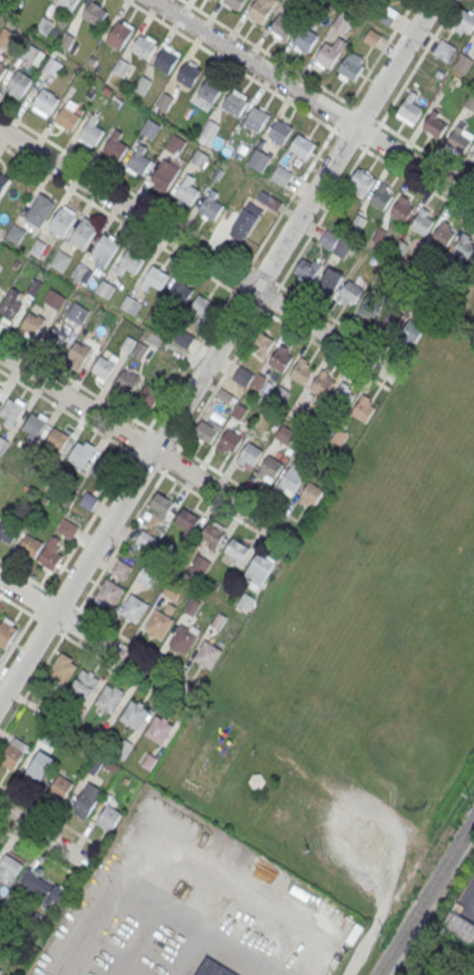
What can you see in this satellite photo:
building: (235, 3)
building: (68, 4)
building: (261, 9)
building: (95, 14)
building: (342, 22)
building: (464, 22)
building: (44, 25)
building: (282, 27)
building: (120, 34)
building: (373, 37)
building: (305, 39)
building: (66, 40)
building: (473, 42)
building: (145, 48)
building: (444, 50)
building: (330, 52)
building: (35, 55)
building: (167, 61)
building: (463, 63)
building: (53, 66)
building: (121, 67)
building: (350, 68)
building: (2, 69)
building: (189, 75)
building: (19, 83)
building: (142, 85)
building: (210, 90)
road: (327, 91)
building: (46, 100)
building: (164, 100)
road: (313, 100)
building: (470, 101)
building: (234, 103)
road: (299, 109)
building: (410, 110)
building: (68, 116)
building: (256, 119)
building: (435, 125)
building: (150, 128)
building: (210, 129)
building: (91, 131)
building: (279, 132)
building: (460, 138)
building: (172, 143)
building: (301, 144)
building: (114, 145)
building: (199, 158)
building: (472, 158)
building: (258, 159)
building: (139, 160)
building: (164, 175)
building: (281, 175)
building: (3, 182)
building: (361, 182)
building: (187, 191)
building: (381, 197)
building: (211, 204)
building: (41, 209)
building: (402, 210)
building: (422, 221)
building: (61, 222)
building: (245, 222)
building: (16, 233)
building: (84, 233)
building: (443, 233)
road: (201, 235)
building: (328, 239)
building: (463, 246)
building: (37, 247)
building: (342, 247)
building: (105, 249)
road: (195, 250)
building: (61, 260)
building: (132, 262)
road: (194, 268)
building: (307, 268)
building: (81, 272)
building: (156, 278)
building: (330, 280)
building: (34, 287)
building: (105, 288)
building: (180, 293)
building: (350, 293)
building: (55, 299)
building: (130, 304)
building: (10, 306)
building: (202, 307)
building: (364, 309)
building: (77, 312)
building: (33, 322)
road: (207, 333)
building: (57, 337)
building: (184, 338)
building: (127, 343)
building: (261, 343)
building: (140, 350)
road: (217, 351)
building: (79, 354)
building: (281, 358)
building: (104, 367)
road: (228, 368)
building: (302, 371)
building: (243, 375)
building: (127, 380)
building: (322, 383)
building: (0, 388)
building: (150, 393)
building: (343, 397)
building: (362, 407)
building: (12, 411)
building: (239, 411)
building: (35, 426)
road: (151, 430)
building: (205, 432)
building: (285, 434)
building: (57, 438)
building: (229, 441)
building: (3, 443)
road: (147, 445)
building: (82, 452)
building: (249, 455)
road: (144, 460)
building: (104, 467)
building: (269, 469)
building: (293, 477)
building: (310, 493)
building: (88, 500)
building: (163, 504)
building: (187, 520)
building: (67, 528)
building: (8, 531)
building: (212, 535)
building: (145, 539)
building: (30, 545)
building: (237, 550)
building: (50, 553)
building: (201, 565)
building: (120, 569)
building: (258, 570)
building: (146, 576)
building: (171, 589)
building: (109, 594)
building: (246, 601)
building: (192, 606)
building: (133, 609)
building: (219, 620)
road: (101, 623)
building: (158, 625)
building: (6, 631)
road: (97, 639)
building: (182, 640)
park: (356, 651)
road: (93, 654)
building: (207, 655)
building: (62, 668)
building: (85, 683)
building: (110, 699)
building: (134, 714)
building: (158, 730)
building: (14, 752)
building: (39, 768)
building: (60, 786)
building: (86, 800)
road: (51, 815)
building: (108, 817)
road: (46, 833)
road: (41, 852)
building: (8, 868)
building: (43, 890)
railway: (424, 895)
parking lot: (467, 900)
building: (459, 927)
parking lot: (144, 934)
building: (212, 969)
building: (0, 971)
parking lot: (472, 972)

